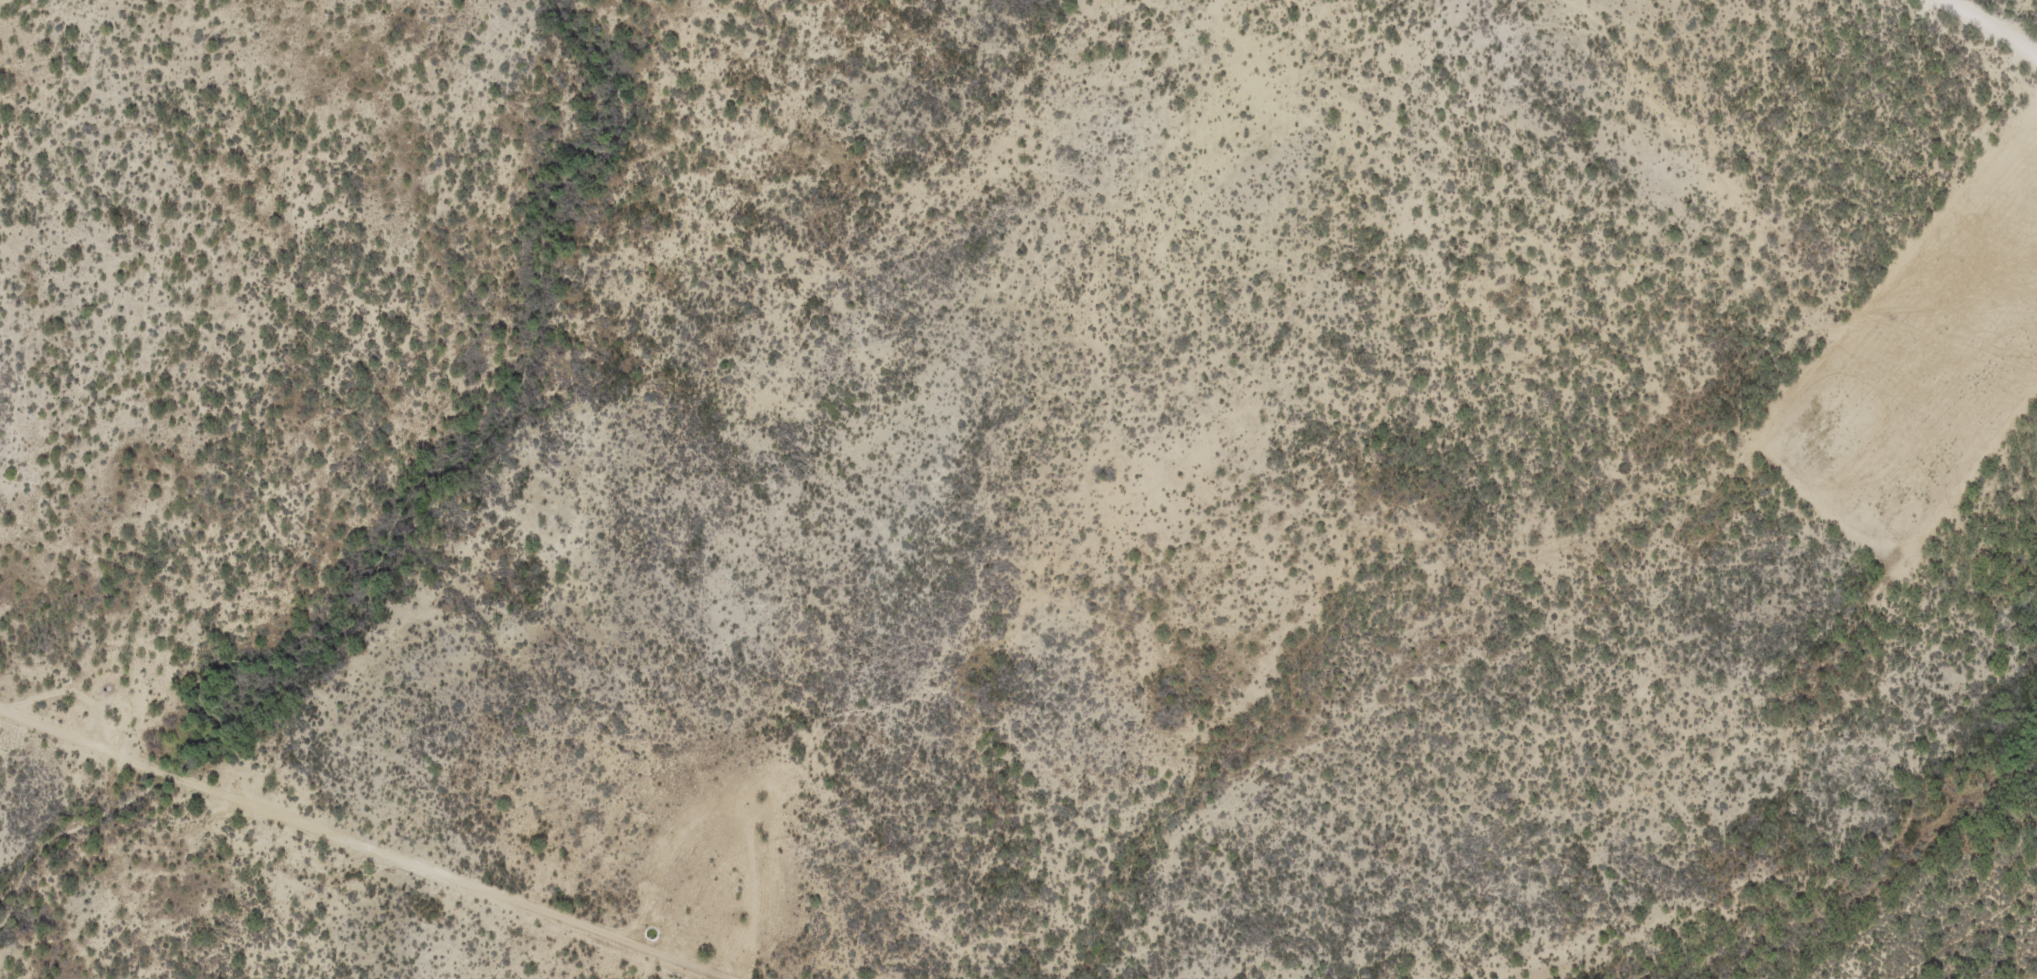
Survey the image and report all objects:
road: (1988, 22)

